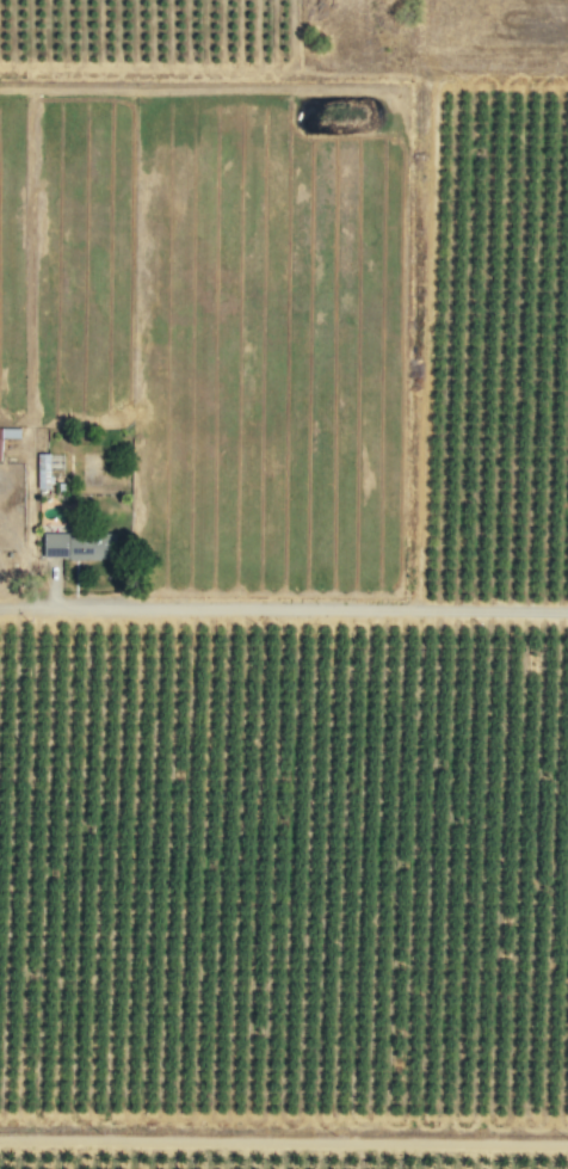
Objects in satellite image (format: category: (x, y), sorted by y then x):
building: (41, 472)
building: (70, 544)
road: (283, 608)
road: (284, 1139)

